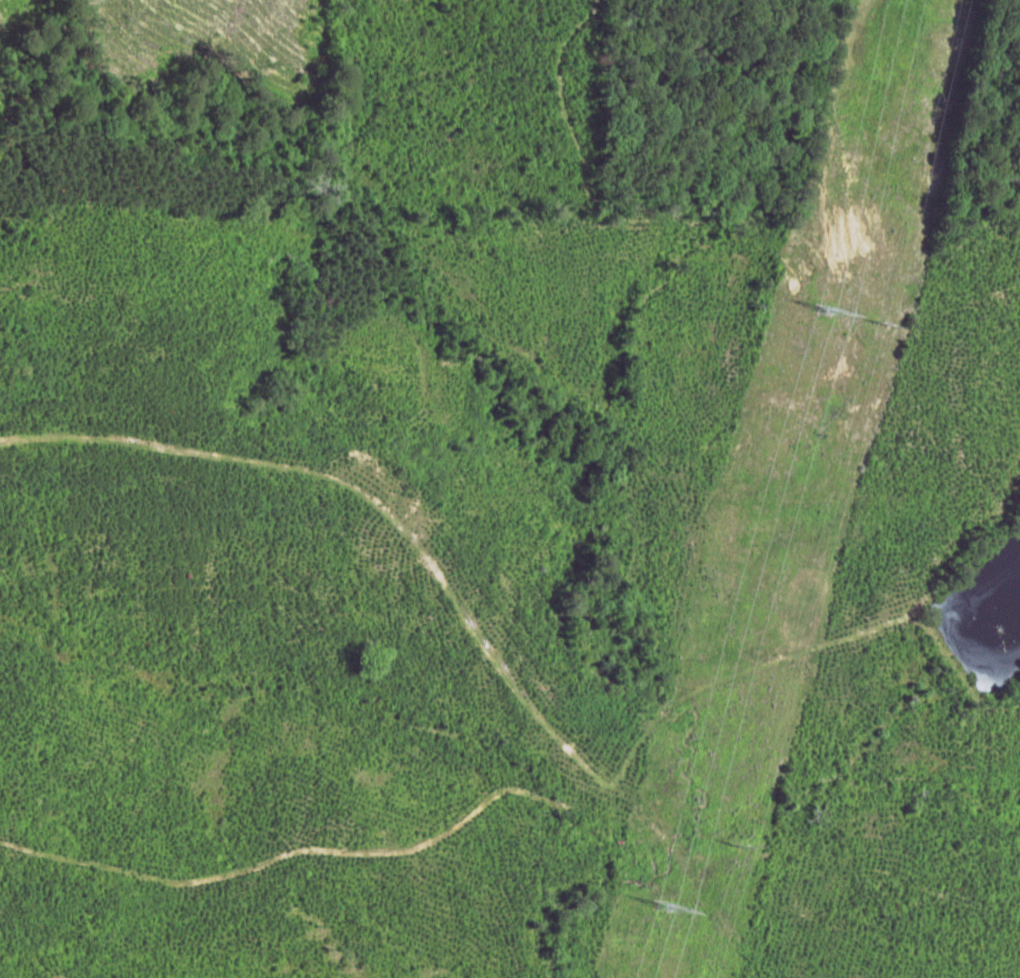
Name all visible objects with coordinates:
power tower: (819, 310)
power tower: (655, 915)

